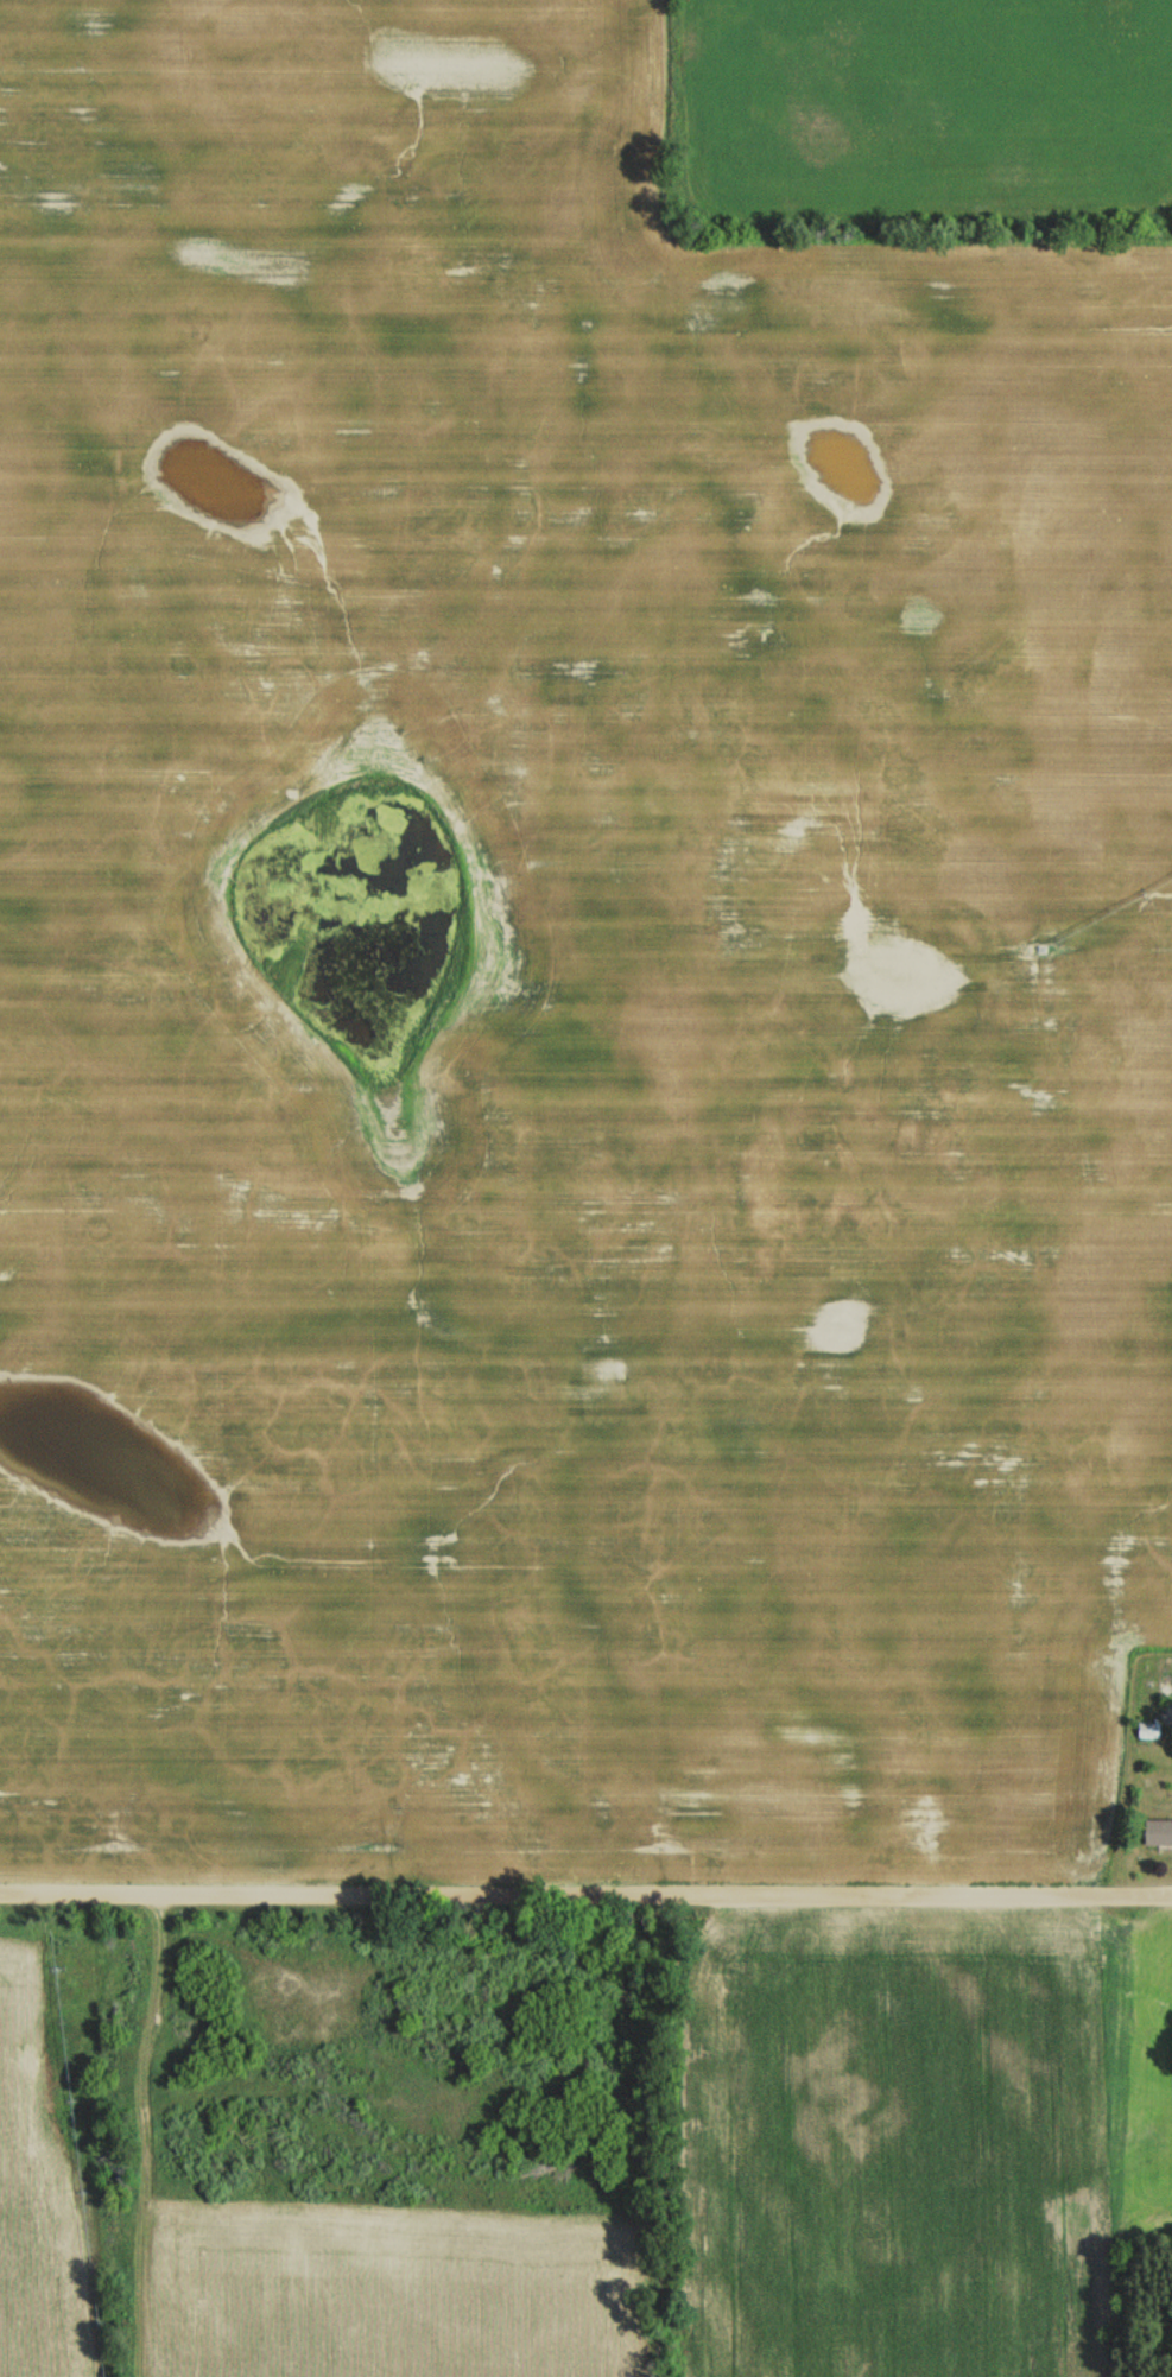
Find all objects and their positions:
building: (1157, 1833)
road: (585, 1889)

